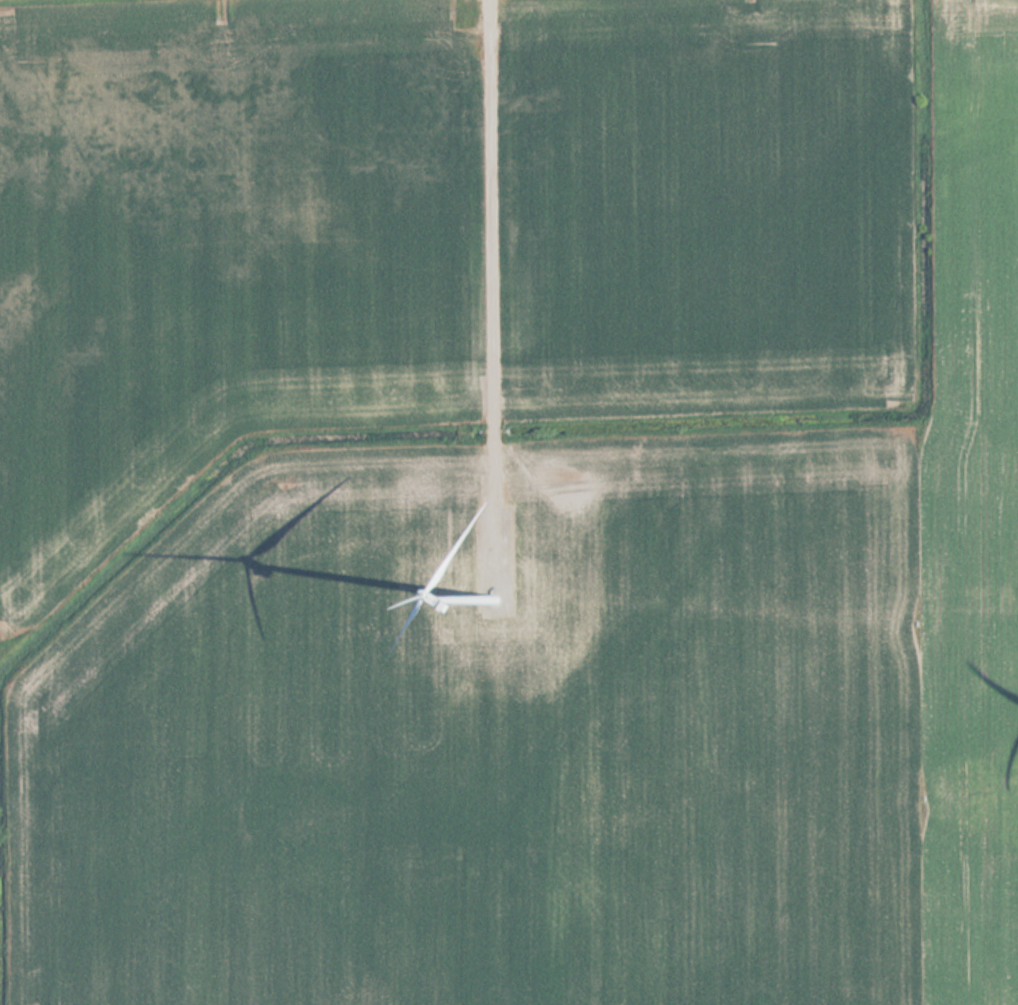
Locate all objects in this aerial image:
road: (497, 240)
wind turbine: (496, 590)

